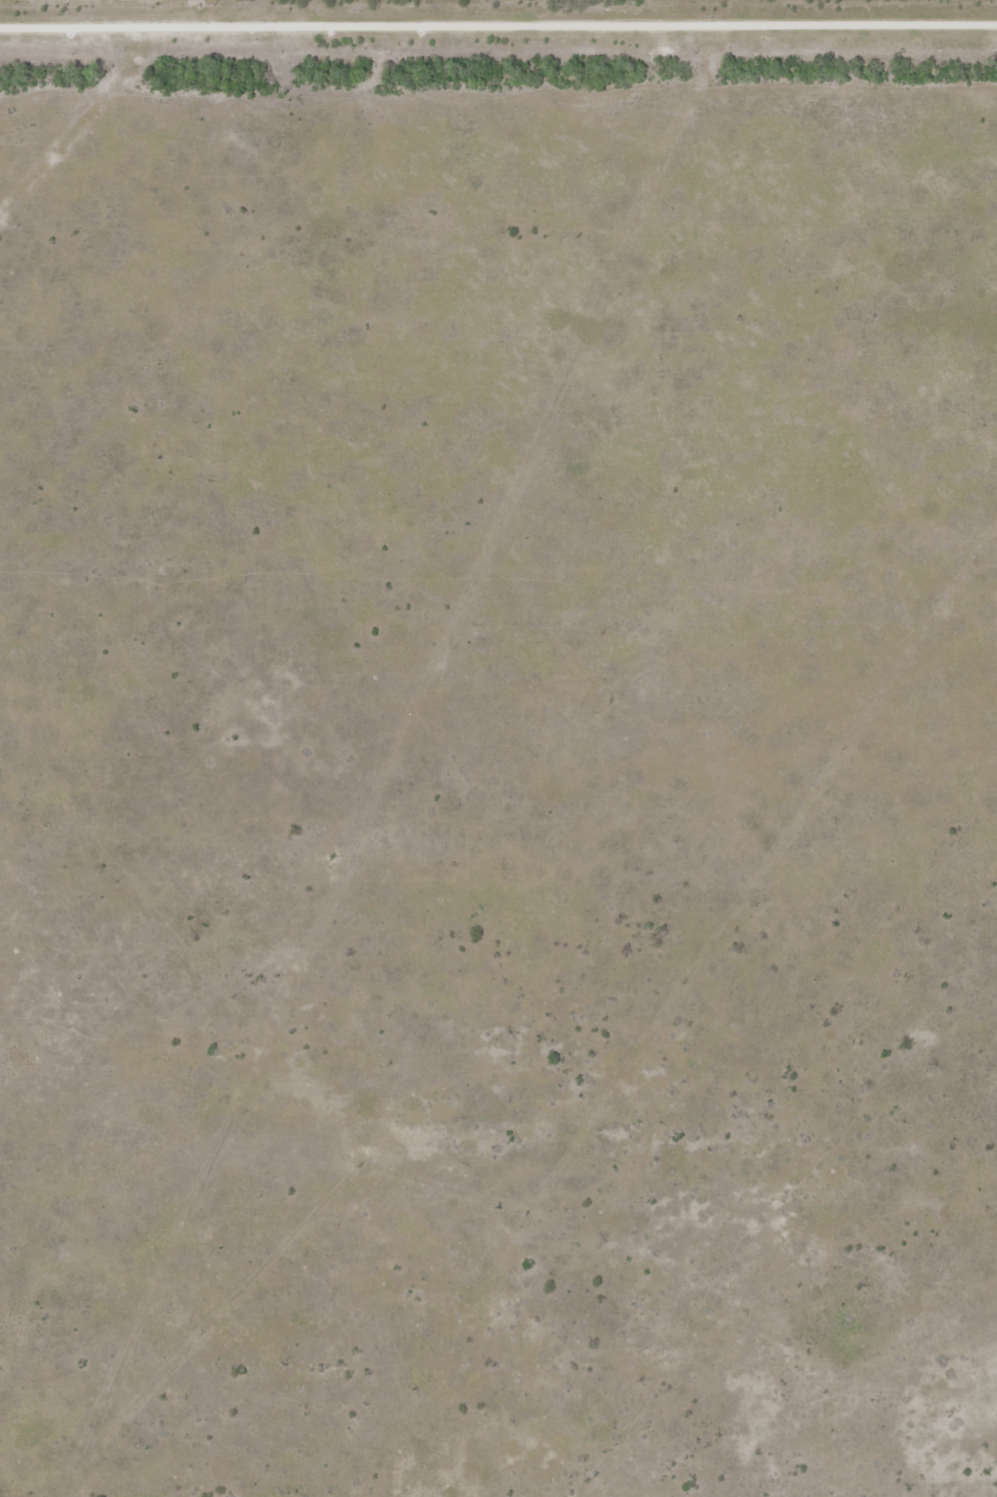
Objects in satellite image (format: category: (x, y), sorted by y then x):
road: (498, 29)

